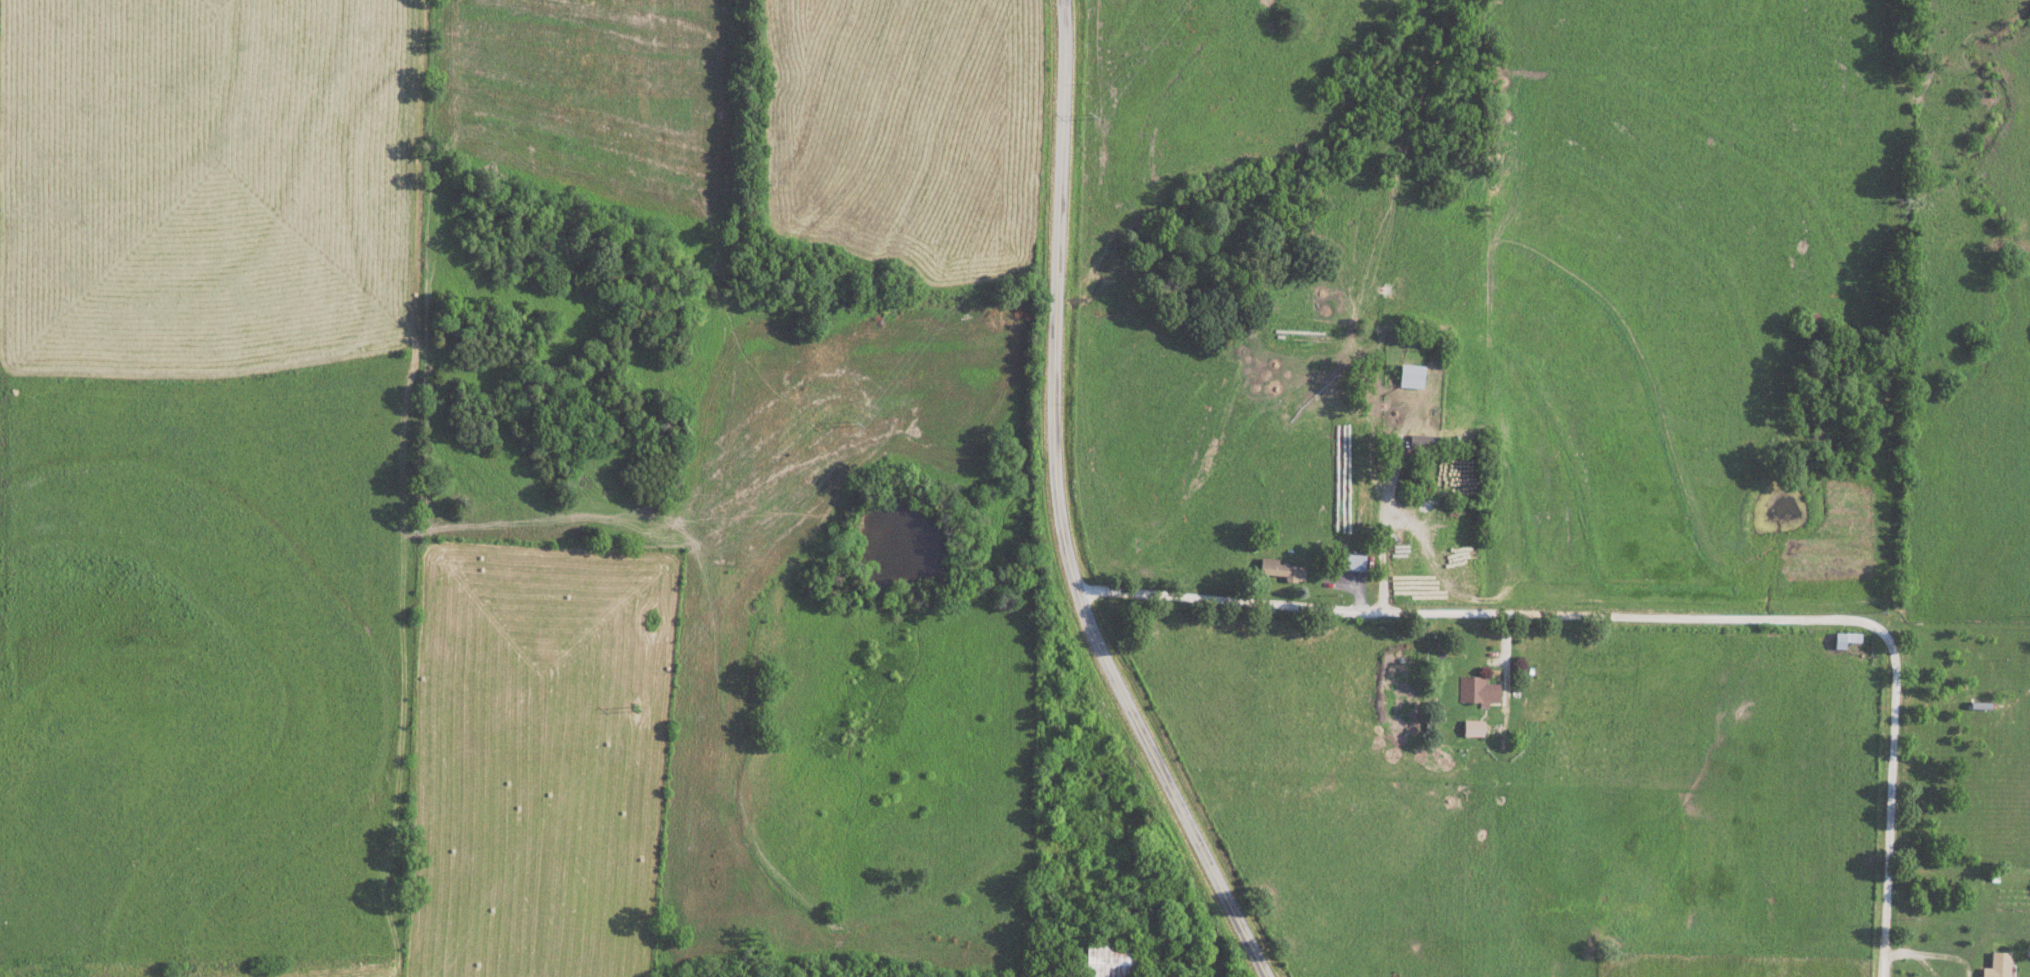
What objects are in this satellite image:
road: (1056, 298)
building: (1412, 376)
building: (1425, 443)
road: (402, 488)
road: (1373, 504)
building: (1352, 561)
building: (1281, 569)
road: (1505, 614)
park: (1165, 629)
building: (1846, 639)
road: (1501, 676)
building: (1477, 690)
building: (1473, 727)
road: (1171, 786)
road: (1888, 825)
road: (1958, 867)
building: (1110, 959)
building: (2000, 964)
road: (204, 973)

